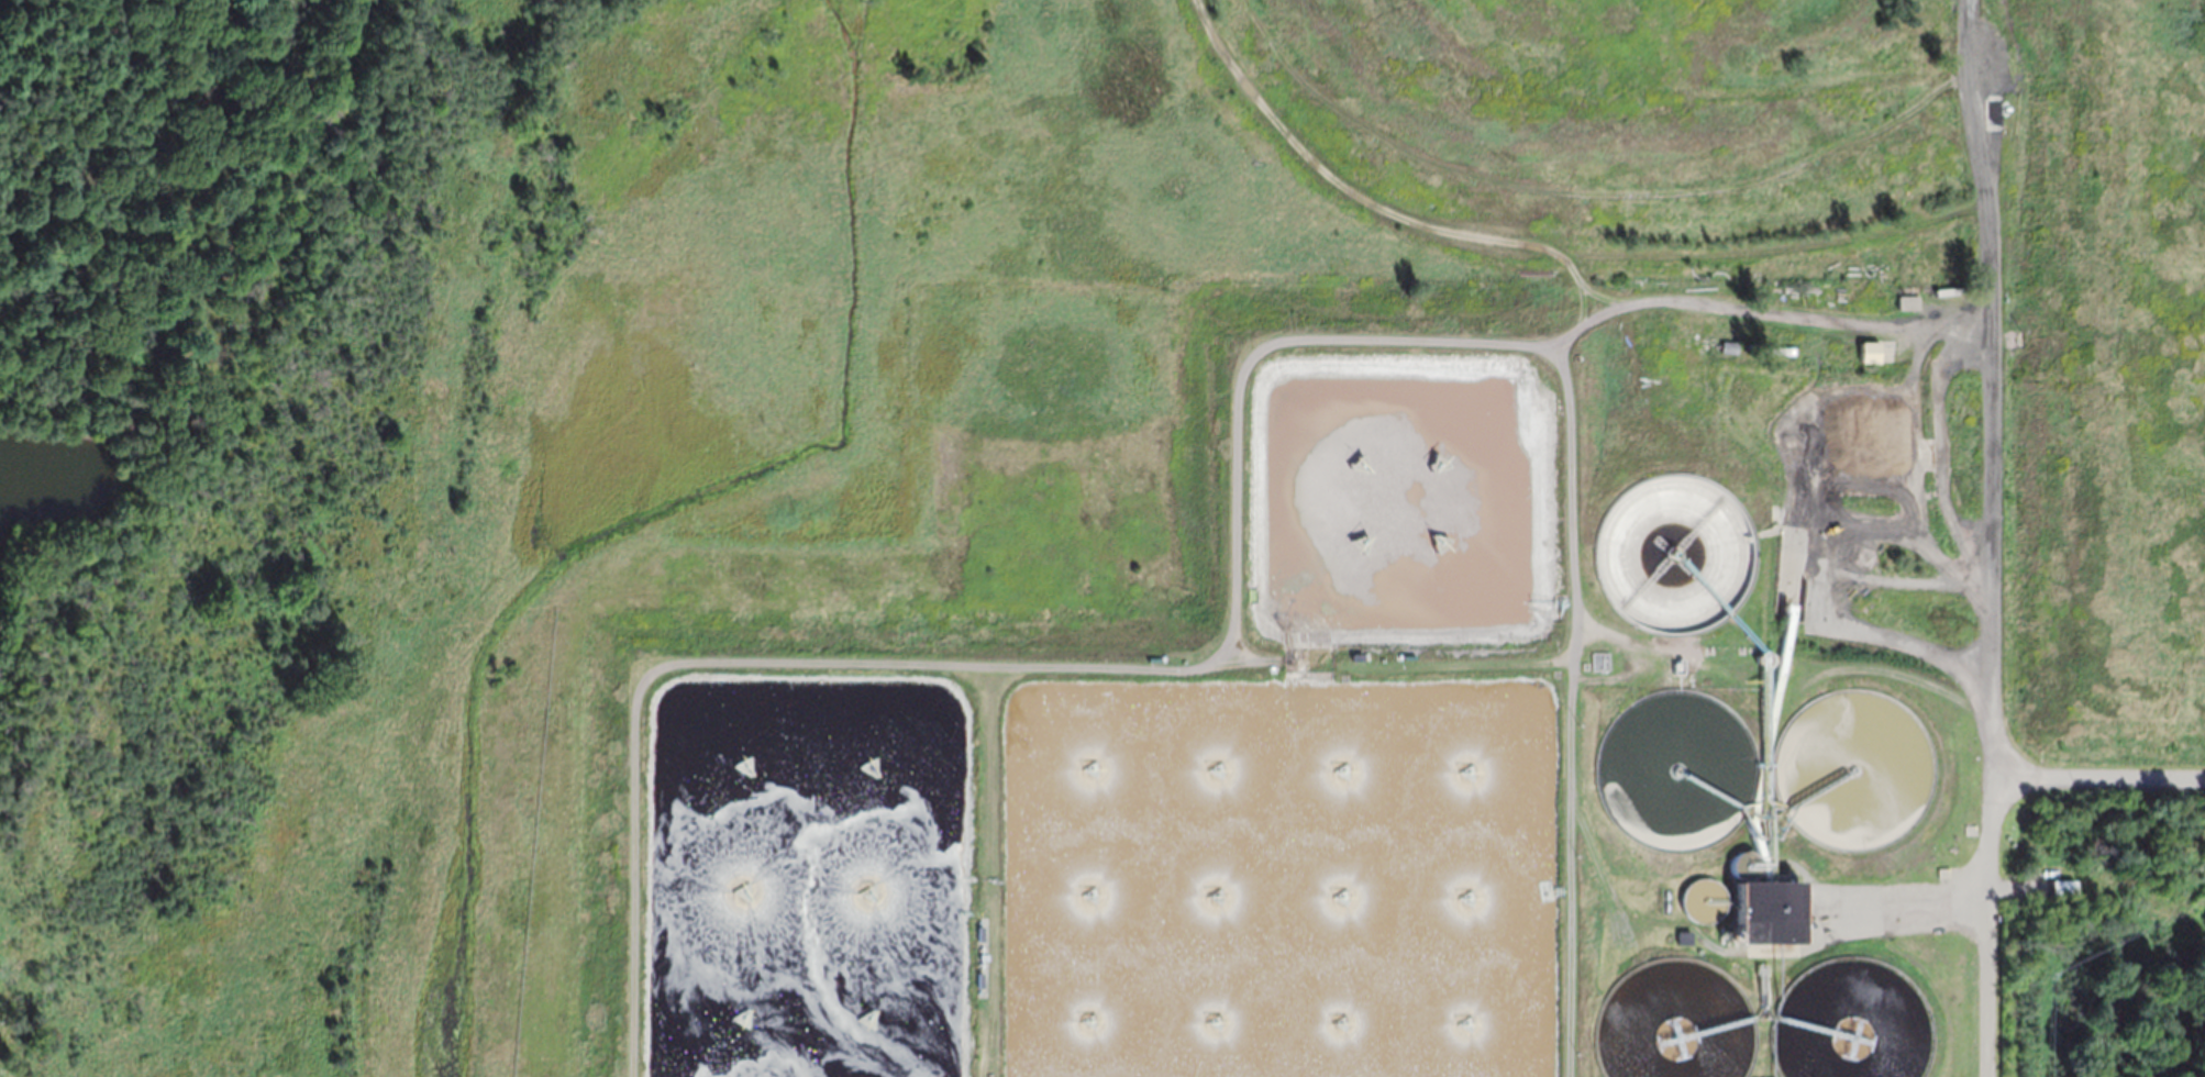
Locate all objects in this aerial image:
building: (1983, 34)
building: (1908, 297)
building: (1730, 346)
building: (1780, 348)
building: (1871, 351)
road: (1987, 599)
building: (1353, 656)
building: (1597, 659)
building: (1582, 664)
building: (1675, 665)
road: (2096, 782)
building: (1943, 871)
building: (2062, 887)
building: (1766, 911)
building: (976, 932)
building: (1683, 936)
building: (979, 955)
building: (976, 979)
building: (1762, 990)

